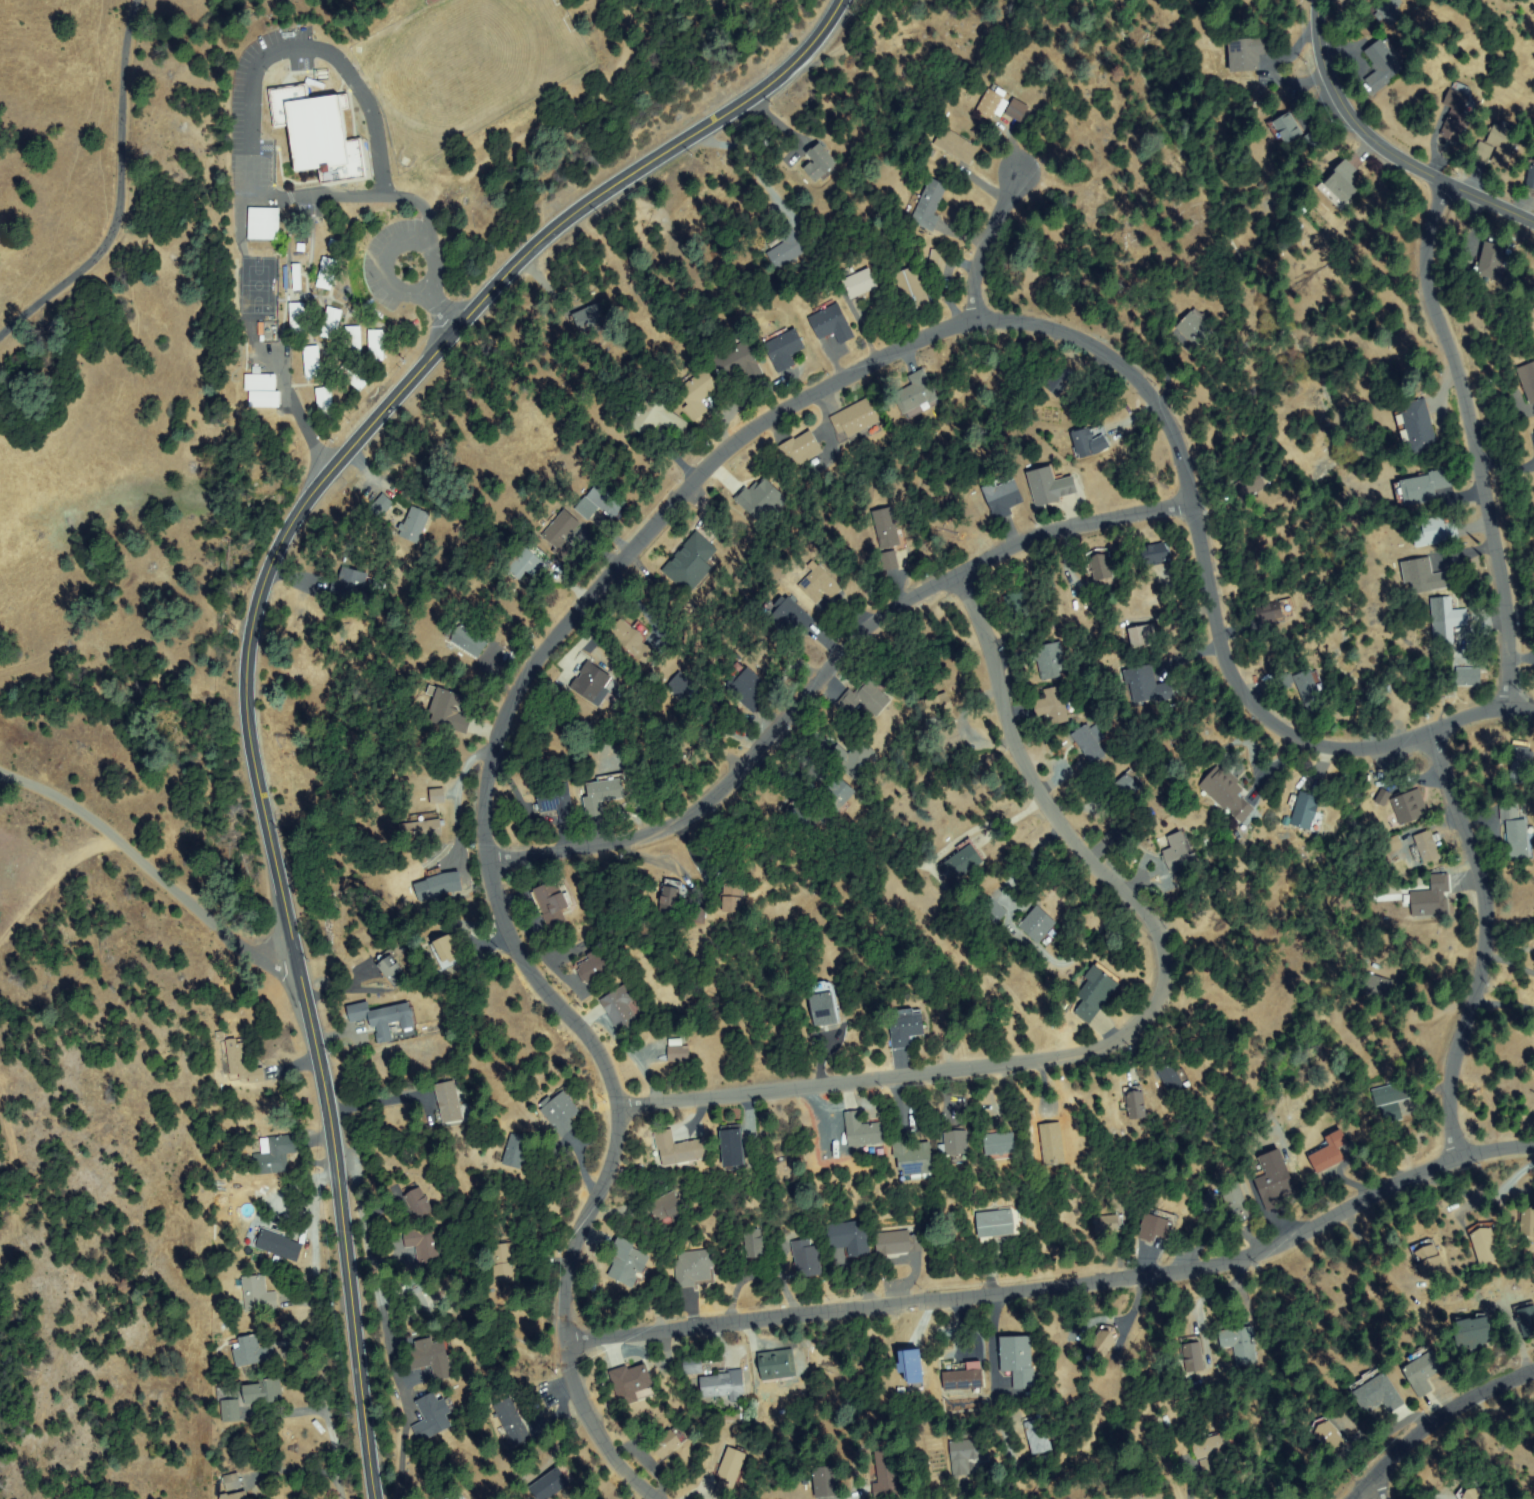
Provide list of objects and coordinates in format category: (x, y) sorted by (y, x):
building: (1389, 11)
building: (1251, 52)
building: (1383, 65)
building: (994, 104)
building: (1017, 111)
building: (1456, 117)
building: (1286, 128)
building: (319, 133)
building: (1313, 141)
road: (1384, 144)
building: (957, 145)
building: (1502, 145)
building: (1483, 152)
building: (820, 163)
building: (1531, 174)
building: (1343, 183)
road: (121, 191)
building: (930, 204)
building: (264, 223)
road: (985, 247)
building: (787, 248)
building: (1492, 260)
building: (938, 261)
building: (327, 273)
building: (297, 276)
building: (860, 284)
building: (912, 289)
building: (299, 318)
building: (590, 318)
building: (331, 323)
building: (833, 323)
building: (1197, 329)
building: (353, 342)
building: (376, 346)
building: (784, 349)
building: (312, 361)
building: (737, 362)
building: (354, 375)
building: (1529, 379)
building: (262, 381)
building: (1061, 381)
building: (698, 391)
building: (917, 394)
building: (266, 399)
building: (325, 403)
building: (656, 417)
building: (857, 419)
building: (1417, 428)
road: (1471, 432)
building: (1091, 442)
building: (800, 451)
building: (1254, 483)
road: (690, 484)
building: (1050, 486)
building: (1426, 486)
building: (1003, 498)
building: (762, 501)
building: (602, 502)
building: (382, 506)
building: (415, 524)
building: (886, 529)
building: (1437, 532)
building: (561, 534)
building: (1156, 554)
building: (889, 562)
building: (529, 564)
building: (691, 564)
building: (1101, 567)
building: (1425, 576)
building: (820, 584)
building: (350, 585)
building: (1018, 607)
building: (1270, 613)
building: (790, 618)
building: (1447, 621)
road: (250, 628)
building: (1143, 637)
building: (468, 638)
building: (633, 640)
building: (765, 657)
building: (1048, 660)
road: (828, 668)
building: (1469, 677)
building: (1284, 681)
building: (594, 683)
building: (1146, 686)
building: (746, 687)
building: (1310, 691)
building: (866, 697)
building: (1052, 706)
building: (934, 708)
building: (449, 710)
building: (950, 738)
building: (1088, 745)
building: (689, 753)
building: (854, 759)
building: (1521, 761)
road: (7, 776)
building: (1122, 788)
building: (605, 792)
building: (1227, 793)
building: (436, 796)
building: (838, 796)
building: (1383, 797)
building: (556, 800)
building: (1410, 806)
building: (1509, 810)
building: (1305, 811)
building: (803, 818)
building: (423, 829)
building: (1121, 835)
building: (1518, 841)
building: (1392, 844)
building: (1427, 848)
building: (1179, 853)
building: (962, 862)
road: (135, 871)
building: (442, 886)
building: (734, 895)
building: (673, 897)
building: (1432, 898)
building: (554, 901)
building: (993, 911)
building: (697, 915)
building: (1037, 925)
road: (1484, 940)
building: (446, 949)
building: (596, 967)
building: (392, 970)
building: (1376, 988)
building: (1096, 993)
building: (824, 1004)
building: (621, 1007)
building: (384, 1018)
road: (1133, 1026)
building: (908, 1027)
building: (679, 1054)
building: (242, 1062)
building: (1172, 1078)
building: (1392, 1100)
building: (449, 1102)
building: (1135, 1104)
building: (561, 1115)
building: (863, 1131)
building: (1042, 1136)
building: (956, 1141)
building: (1000, 1145)
building: (734, 1148)
building: (679, 1149)
building: (1329, 1153)
building: (516, 1154)
building: (275, 1155)
building: (914, 1158)
building: (1274, 1181)
building: (1212, 1200)
building: (419, 1204)
building: (1234, 1205)
building: (665, 1208)
building: (1527, 1222)
building: (1108, 1223)
building: (998, 1224)
building: (1158, 1226)
building: (850, 1238)
building: (900, 1243)
building: (423, 1244)
building: (280, 1245)
building: (754, 1245)
building: (1486, 1246)
building: (807, 1260)
building: (1428, 1260)
building: (504, 1262)
building: (628, 1262)
building: (695, 1267)
road: (1061, 1285)
building: (445, 1290)
building: (257, 1295)
building: (1526, 1319)
building: (1473, 1335)
building: (1240, 1343)
building: (1102, 1344)
building: (253, 1350)
building: (1193, 1356)
building: (430, 1358)
building: (1018, 1360)
building: (693, 1363)
building: (778, 1365)
building: (1423, 1369)
building: (964, 1378)
building: (631, 1384)
building: (723, 1386)
building: (263, 1391)
building: (1376, 1392)
building: (231, 1410)
building: (431, 1417)
road: (1431, 1420)
building: (512, 1422)
building: (538, 1429)
building: (1038, 1436)
building: (1328, 1436)
building: (669, 1443)
building: (1209, 1451)
building: (967, 1453)
building: (730, 1471)
building: (886, 1476)
building: (826, 1481)
building: (232, 1482)
road: (1380, 1482)
building: (551, 1483)
building: (1469, 1492)
building: (237, 1496)
building: (460, 1498)

